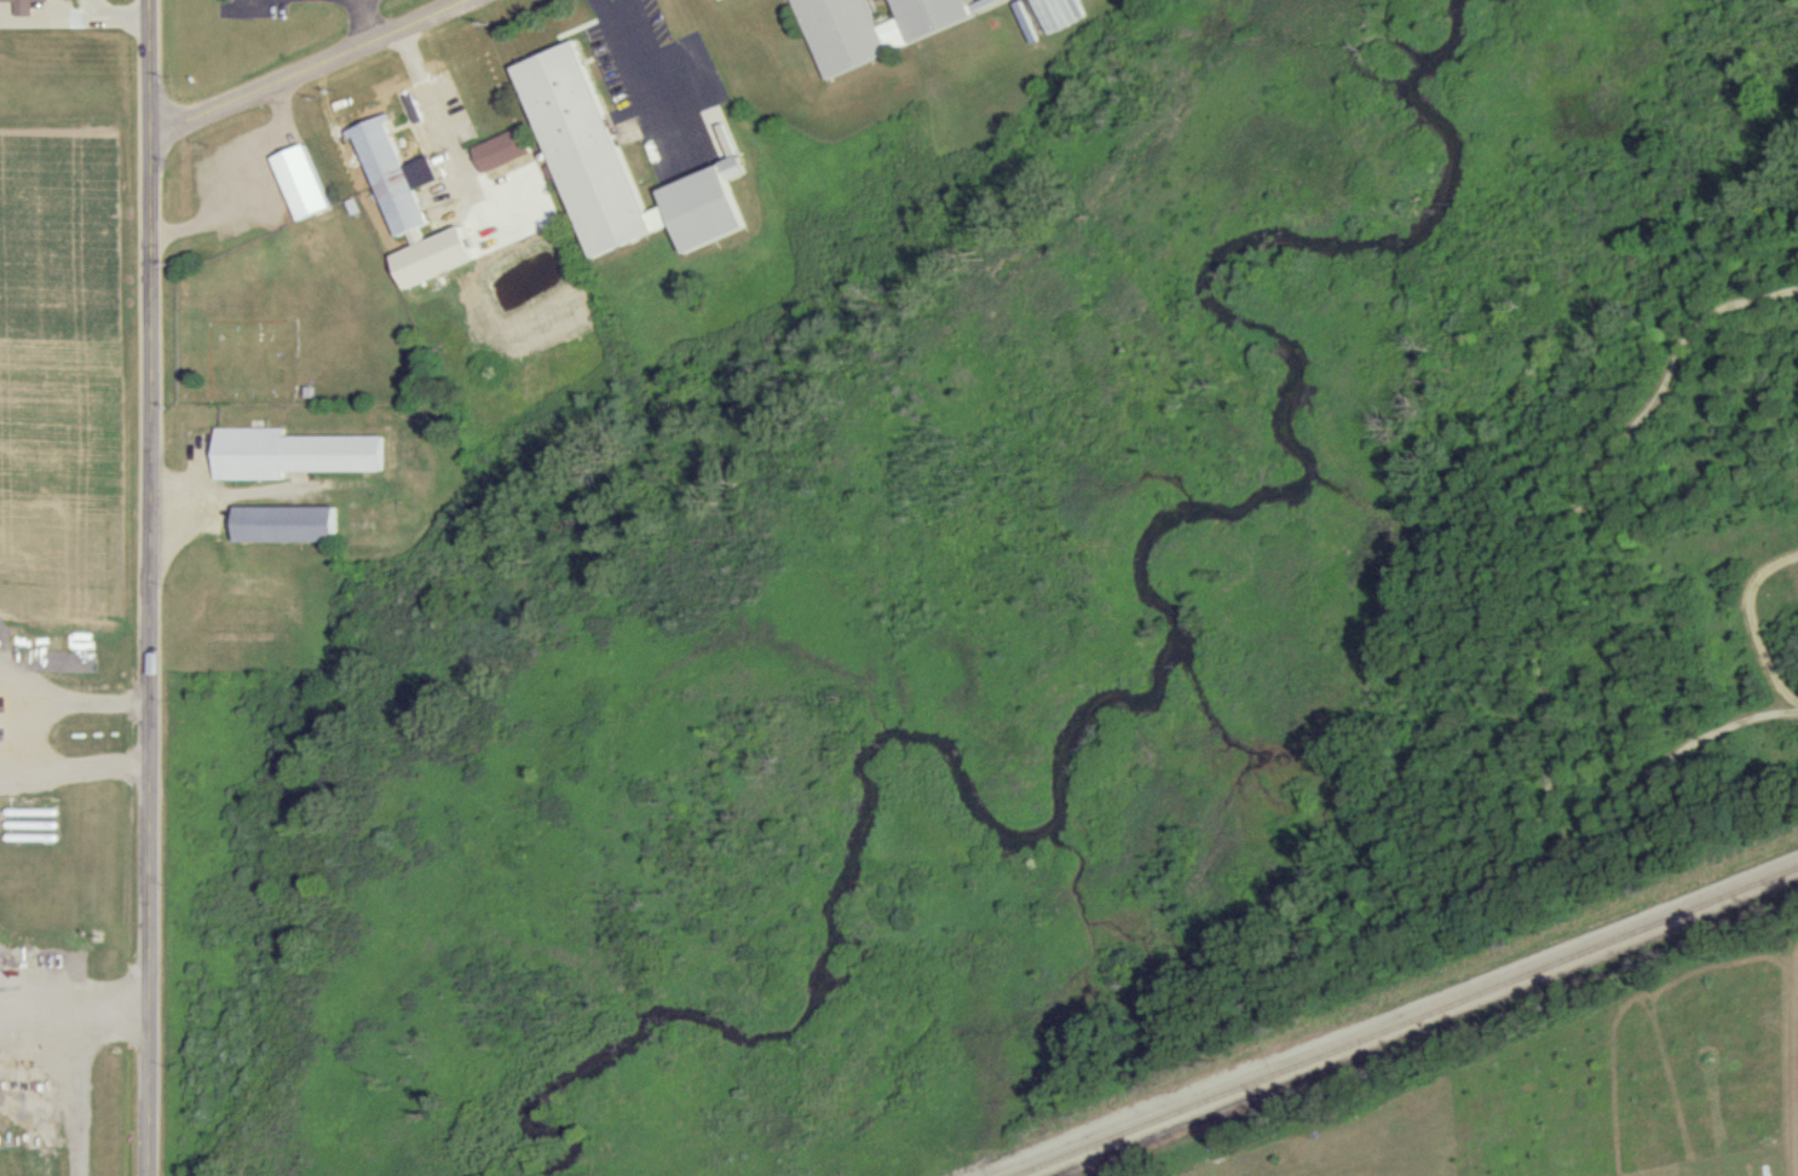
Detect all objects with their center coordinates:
building: (22, 7)
road: (606, 8)
road: (121, 19)
road: (363, 19)
road: (60, 25)
building: (872, 27)
road: (302, 65)
road: (642, 77)
road: (423, 90)
building: (501, 149)
building: (616, 165)
road: (466, 177)
road: (246, 179)
building: (299, 180)
building: (408, 206)
building: (288, 451)
building: (283, 523)
road: (146, 587)
road: (24, 737)
road: (13, 772)
road: (73, 1010)
railway: (1412, 1022)
road: (82, 1093)

